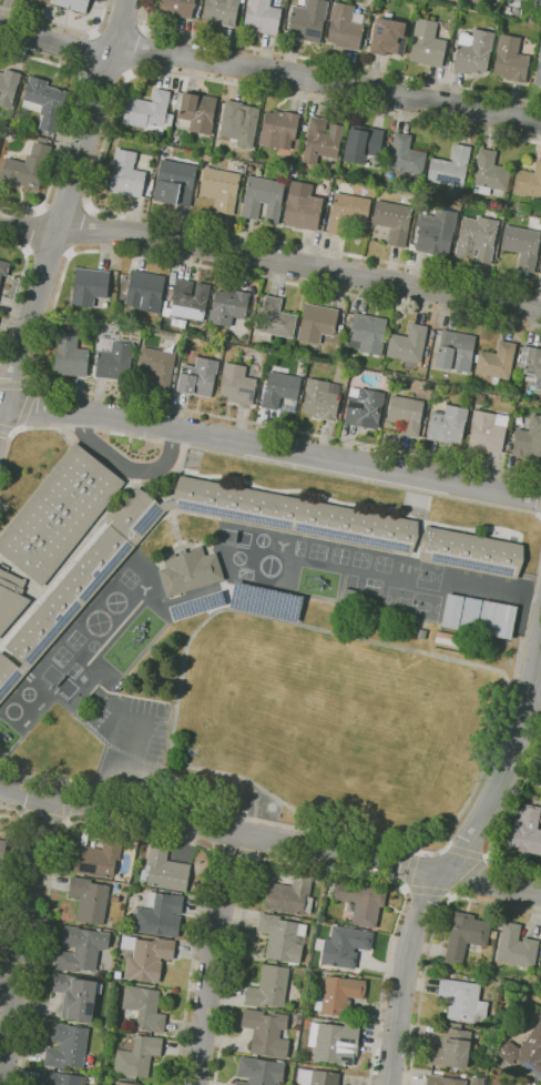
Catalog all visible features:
building: (42, 0)
building: (300, 2)
building: (74, 3)
building: (176, 8)
building: (221, 12)
building: (261, 17)
building: (307, 21)
road: (123, 24)
road: (63, 26)
building: (344, 27)
building: (388, 37)
building: (426, 43)
road: (142, 51)
road: (88, 52)
building: (473, 52)
building: (510, 59)
road: (328, 61)
building: (0, 68)
building: (538, 69)
road: (269, 70)
building: (9, 87)
building: (45, 102)
building: (198, 111)
building: (150, 112)
road: (69, 120)
building: (239, 122)
building: (278, 129)
building: (320, 139)
building: (361, 143)
road: (99, 159)
building: (402, 159)
building: (28, 165)
building: (449, 168)
building: (294, 172)
building: (489, 173)
building: (126, 174)
building: (529, 181)
building: (176, 183)
building: (221, 189)
building: (263, 197)
road: (64, 205)
building: (303, 206)
building: (347, 211)
building: (392, 221)
road: (82, 229)
road: (32, 231)
building: (436, 235)
building: (474, 239)
building: (521, 245)
road: (270, 258)
building: (4, 267)
building: (540, 267)
building: (540, 272)
building: (540, 275)
road: (19, 285)
building: (90, 285)
building: (146, 291)
building: (190, 297)
building: (228, 305)
building: (166, 311)
building: (276, 320)
building: (317, 323)
building: (368, 333)
road: (43, 338)
building: (408, 344)
building: (456, 351)
building: (70, 355)
building: (115, 361)
building: (497, 362)
building: (159, 365)
building: (533, 365)
building: (198, 376)
building: (237, 384)
road: (17, 385)
building: (280, 388)
building: (321, 398)
building: (481, 398)
road: (23, 407)
building: (365, 407)
building: (407, 414)
building: (449, 424)
road: (8, 428)
road: (21, 428)
road: (79, 428)
building: (488, 430)
road: (127, 434)
building: (529, 439)
road: (171, 442)
road: (270, 447)
road: (125, 465)
road: (361, 478)
building: (59, 514)
building: (296, 514)
park: (235, 536)
flagpole: (145, 544)
building: (471, 551)
building: (190, 570)
park: (386, 571)
park: (428, 576)
building: (81, 584)
building: (11, 598)
building: (264, 601)
park: (399, 601)
building: (196, 606)
park: (423, 606)
building: (451, 611)
building: (468, 614)
building: (498, 619)
park: (58, 680)
park: (207, 692)
road: (534, 693)
park: (262, 701)
park: (202, 727)
parking lot: (126, 728)
park: (254, 737)
park: (354, 741)
road: (129, 744)
road: (176, 779)
road: (121, 794)
road: (64, 801)
road: (472, 805)
road: (461, 812)
road: (44, 815)
road: (503, 817)
road: (65, 820)
road: (124, 832)
building: (525, 832)
road: (270, 839)
road: (466, 852)
building: (2, 853)
building: (100, 856)
road: (459, 858)
road: (487, 858)
road: (315, 866)
road: (16, 868)
road: (411, 869)
building: (166, 870)
road: (468, 874)
road: (404, 888)
road: (428, 889)
building: (290, 893)
road: (452, 894)
building: (90, 899)
building: (361, 901)
building: (1, 909)
building: (161, 914)
building: (493, 934)
building: (466, 935)
building: (283, 937)
road: (22, 940)
road: (430, 944)
building: (346, 946)
building: (517, 946)
building: (82, 949)
building: (146, 957)
road: (213, 957)
building: (118, 974)
road: (8, 976)
building: (540, 976)
building: (269, 986)
building: (339, 995)
building: (75, 996)
building: (463, 1001)
building: (144, 1008)
building: (267, 1032)
building: (335, 1042)
building: (68, 1046)
building: (451, 1047)
building: (525, 1051)
building: (136, 1055)
building: (261, 1072)
building: (317, 1077)
building: (62, 1078)
building: (443, 1081)
building: (126, 1083)
building: (537, 1084)

